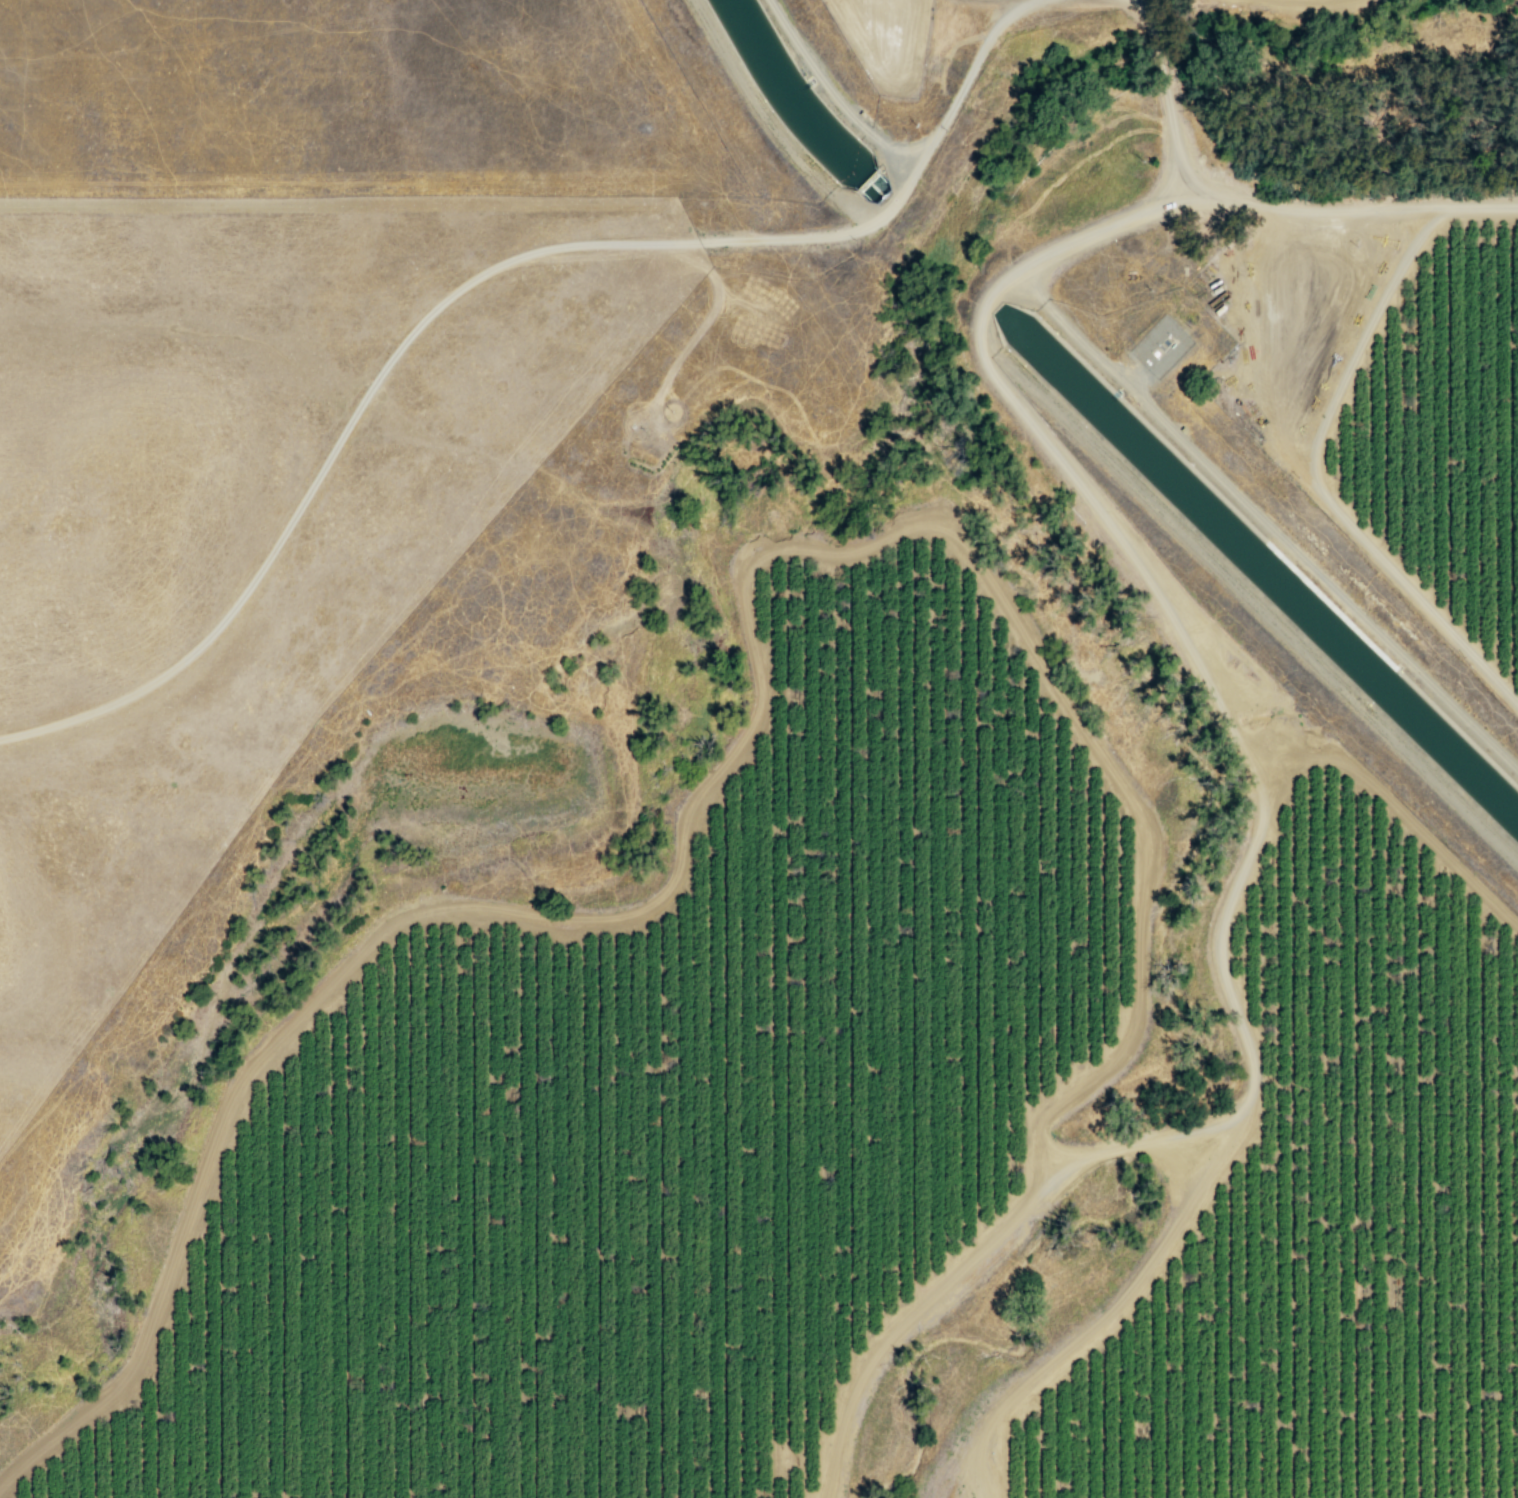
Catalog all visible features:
road: (1145, 12)
road: (1156, 50)
road: (1168, 111)
road: (1309, 203)
road: (1493, 205)
road: (473, 279)
road: (708, 315)
road: (1317, 466)
road: (739, 750)
road: (1259, 785)
road: (1390, 800)
road: (1141, 1145)
road: (907, 1323)

